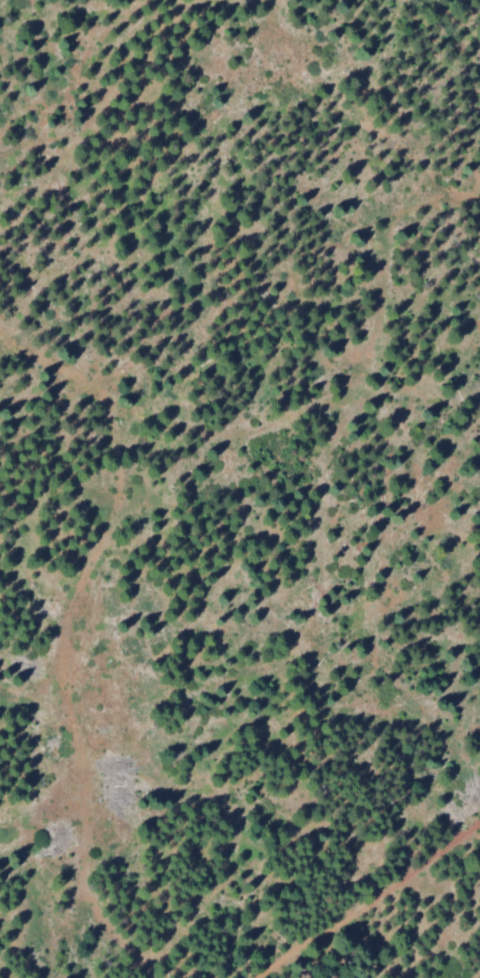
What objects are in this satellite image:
road: (364, 899)

